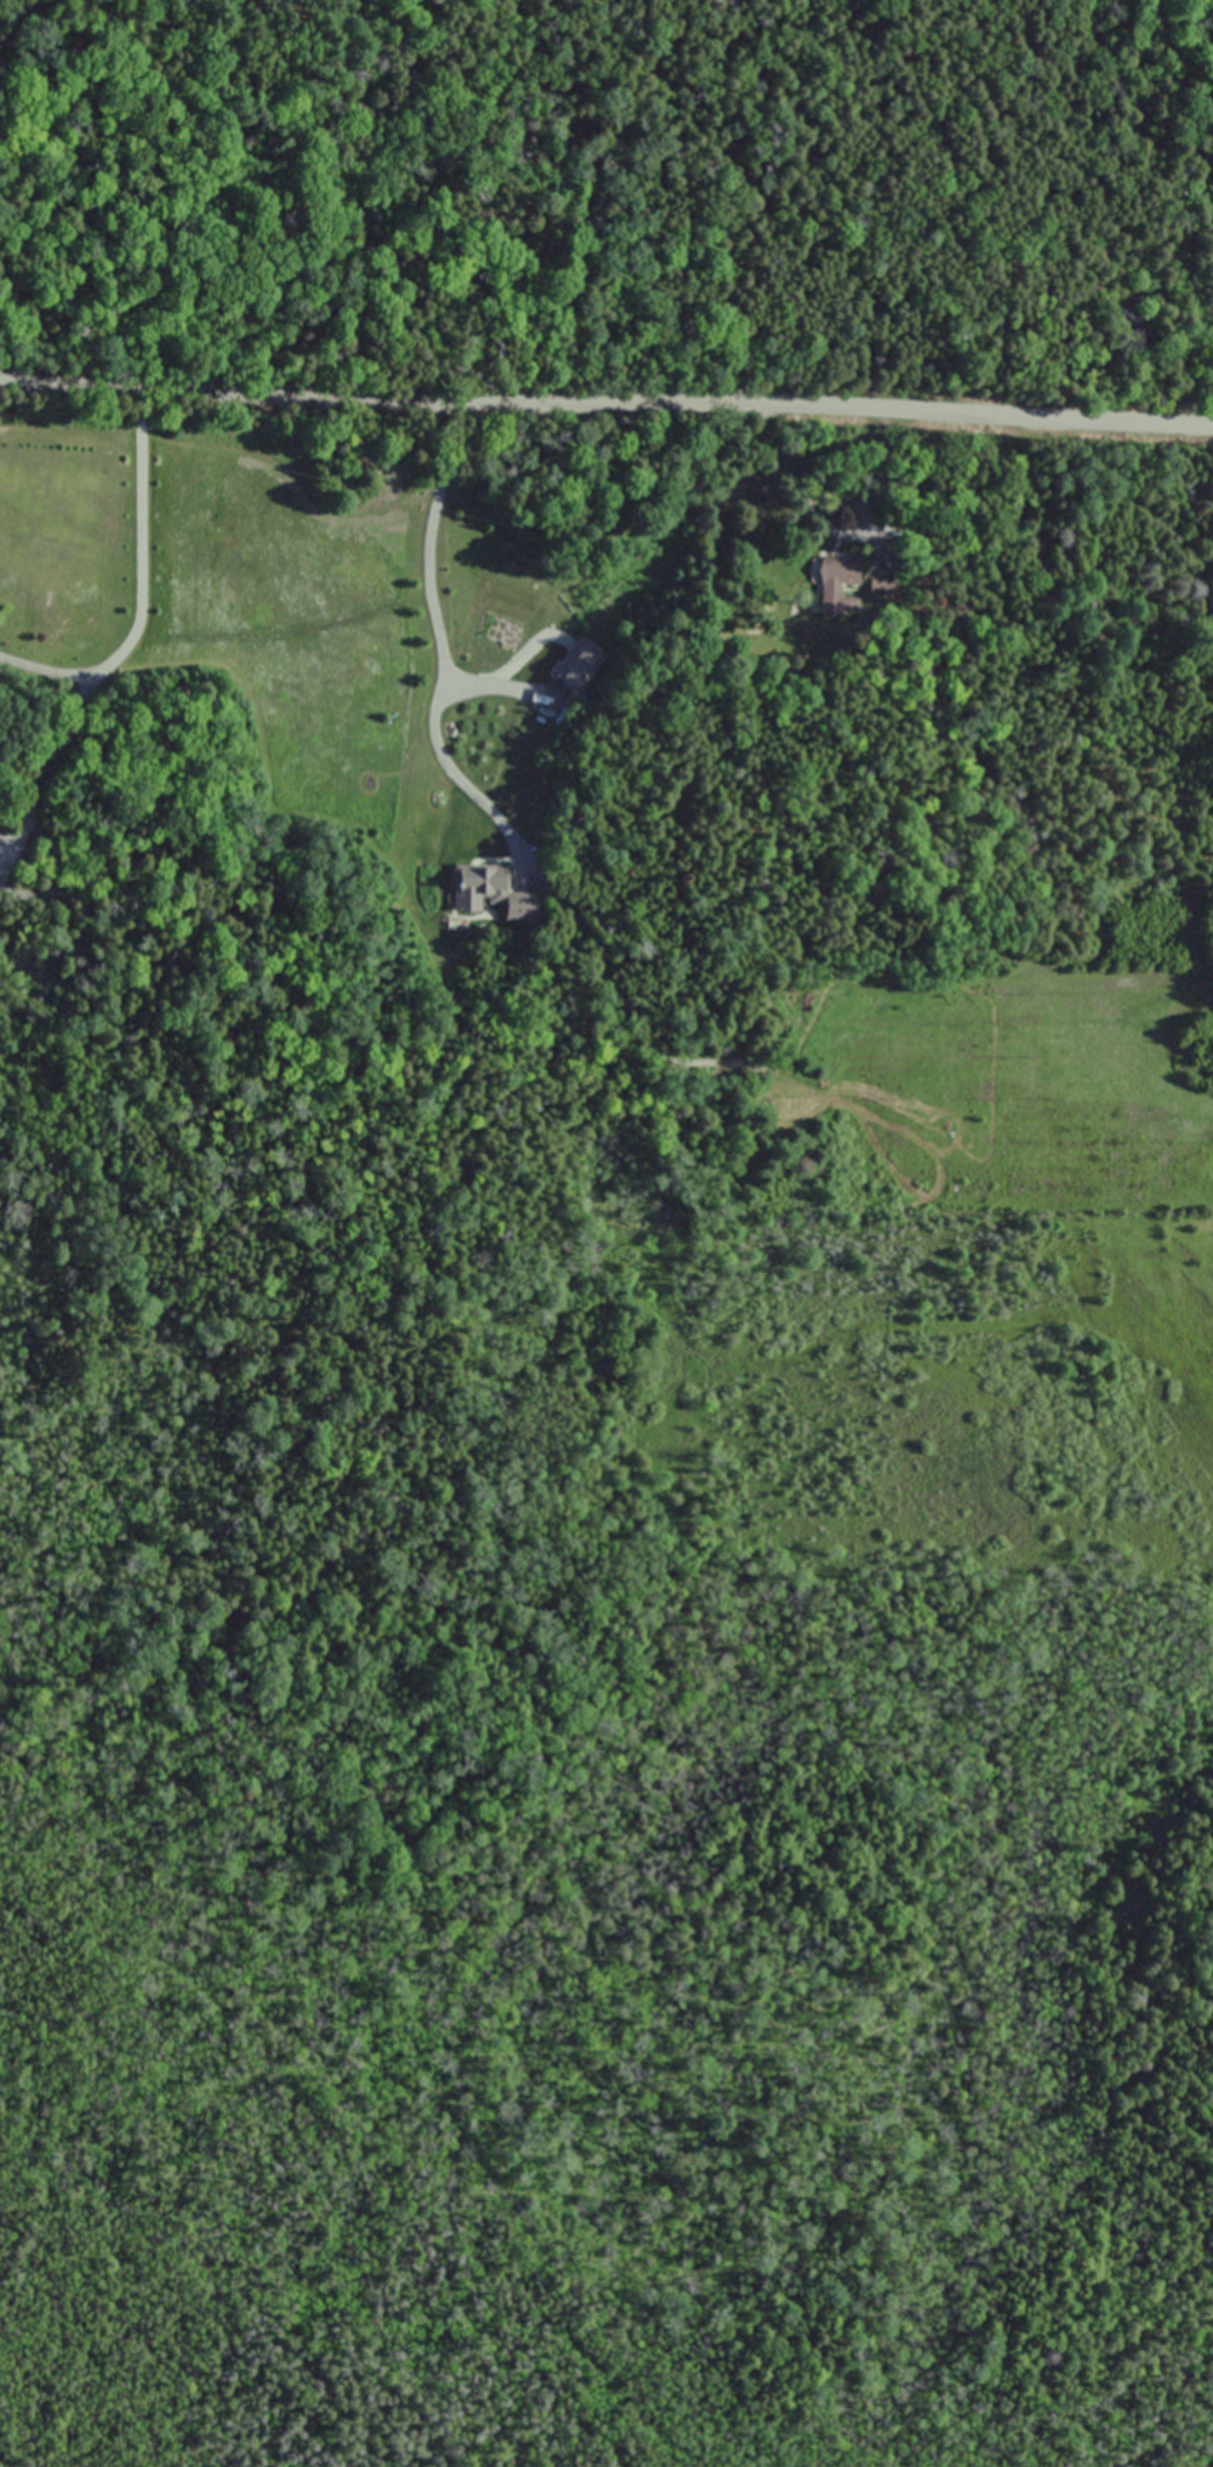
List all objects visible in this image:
road: (10, 18)
road: (605, 413)
building: (839, 572)
road: (427, 590)
road: (142, 595)
building: (576, 664)
road: (42, 762)
road: (457, 773)
building: (494, 889)

